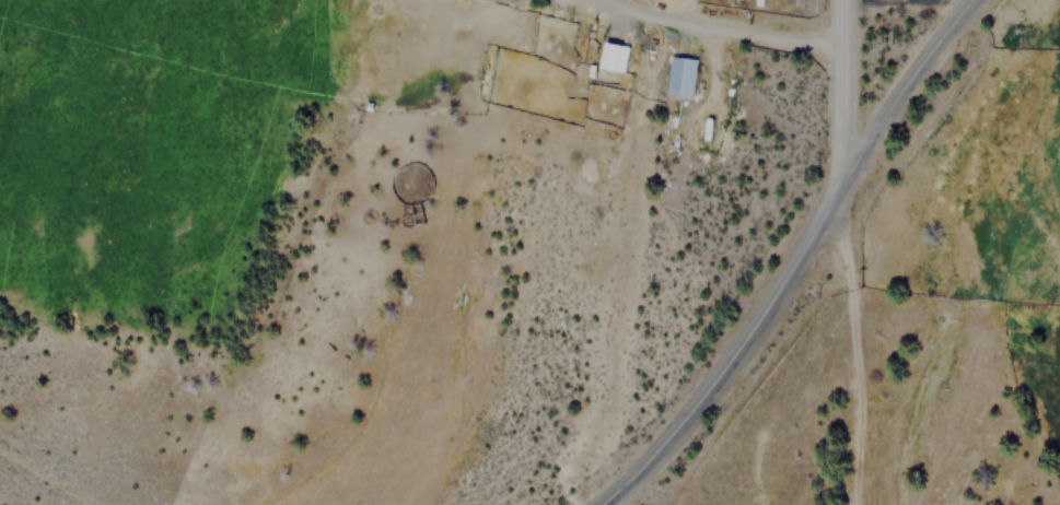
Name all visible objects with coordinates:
building: (613, 56)
building: (680, 77)
road: (839, 91)
road: (793, 261)

